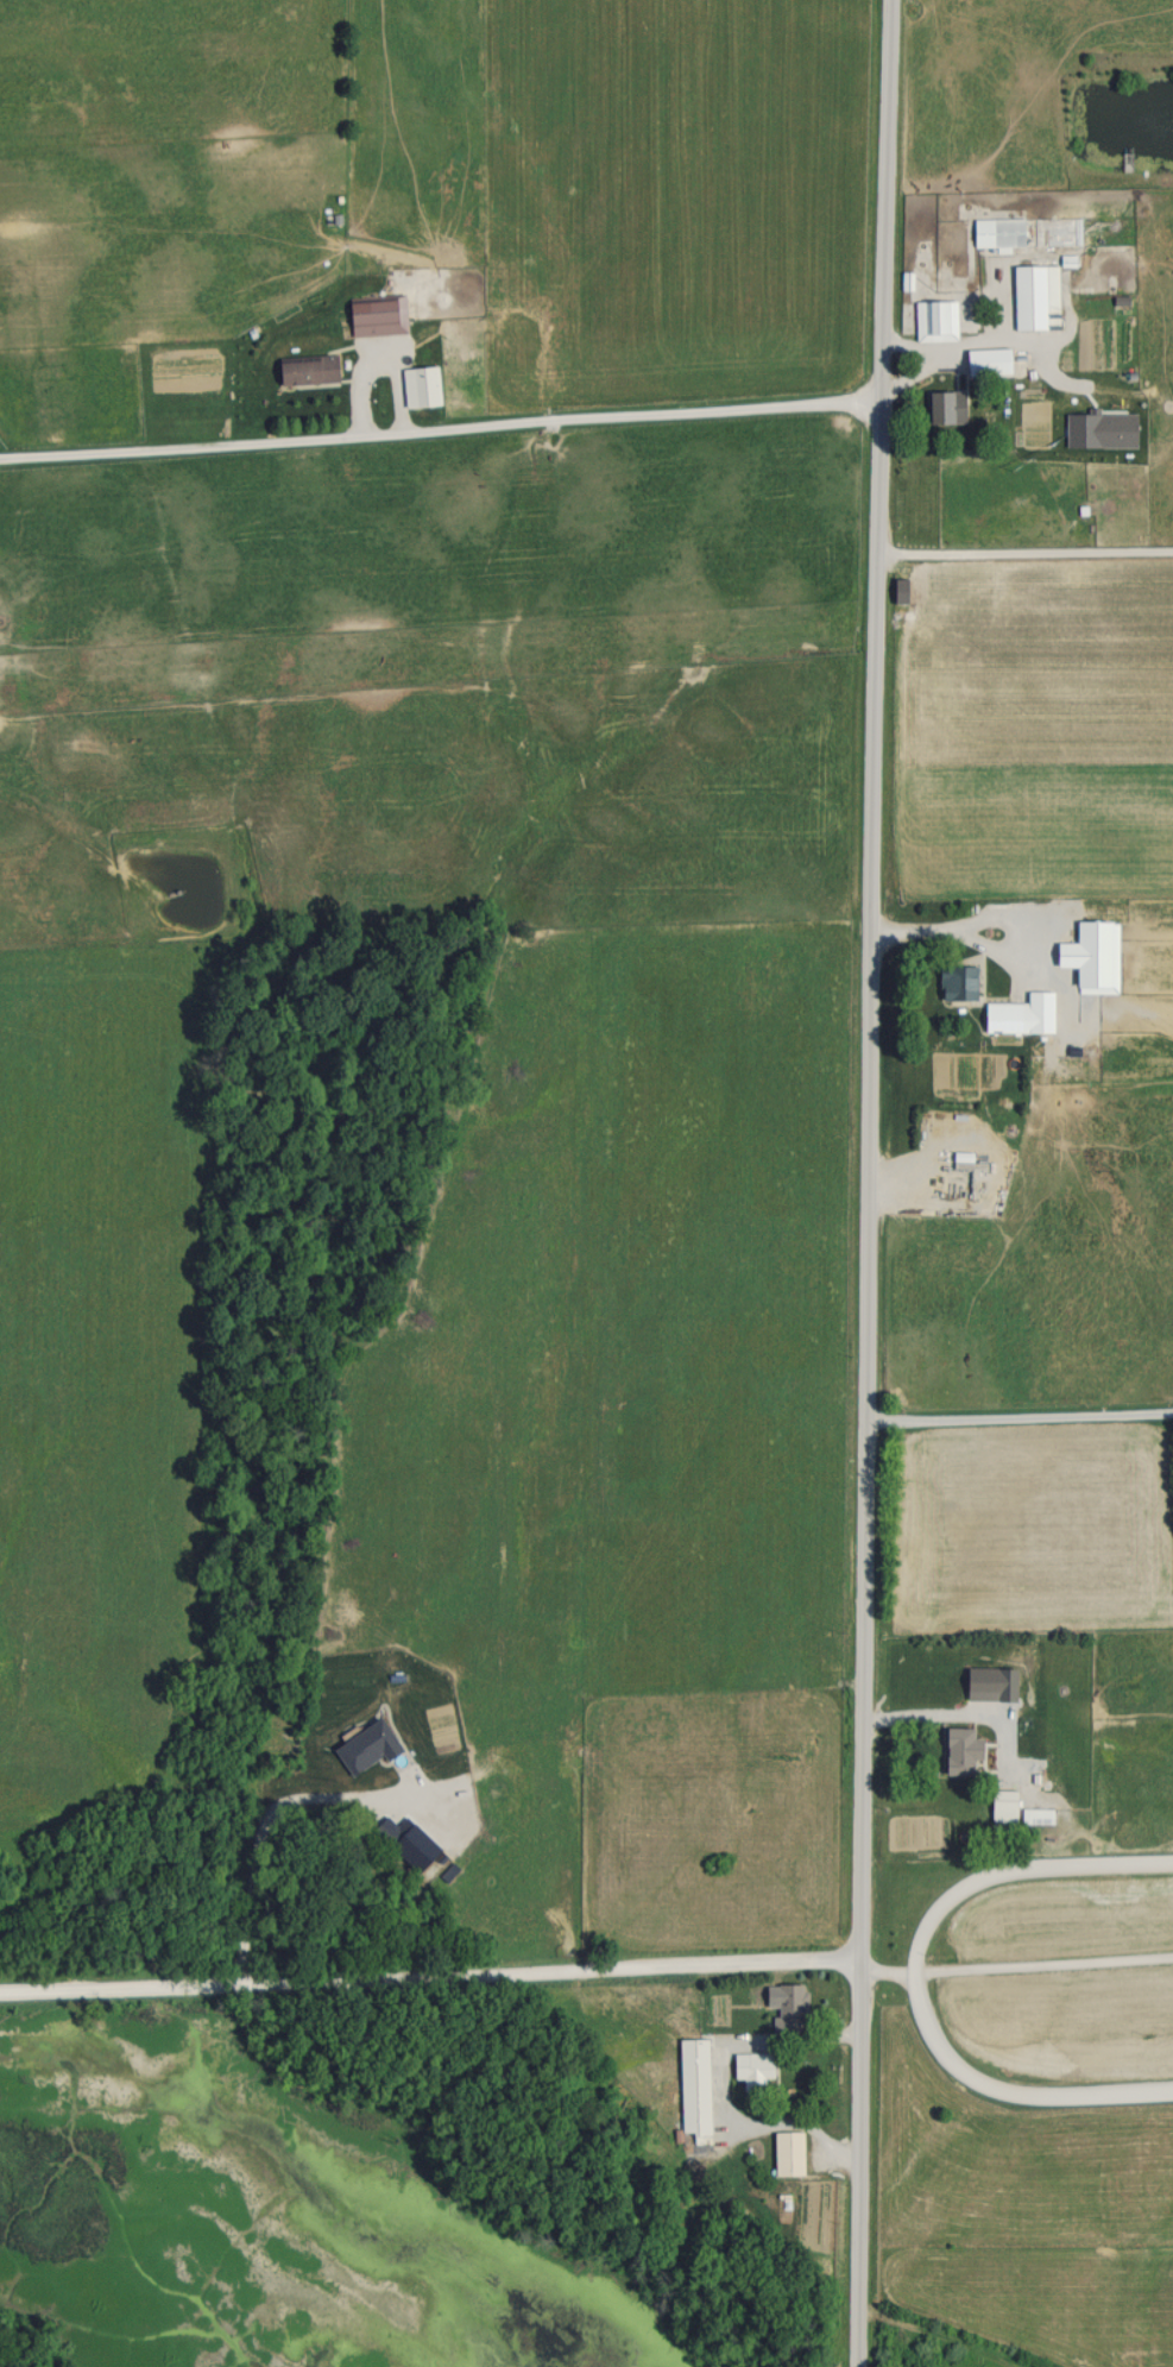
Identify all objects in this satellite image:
building: (1024, 233)
building: (1034, 297)
building: (374, 315)
building: (935, 319)
building: (988, 361)
road: (922, 365)
building: (305, 370)
building: (944, 407)
road: (441, 442)
road: (1026, 554)
road: (998, 913)
road: (916, 927)
building: (1038, 936)
building: (956, 983)
building: (1035, 1000)
building: (1096, 1006)
building: (1001, 1018)
road: (864, 1183)
road: (1016, 1428)
building: (958, 1750)
building: (1002, 1805)
building: (1035, 1814)
road: (1013, 1971)
road: (914, 1979)
road: (425, 1985)
building: (790, 2008)
building: (752, 2065)
building: (693, 2090)
building: (786, 2153)

